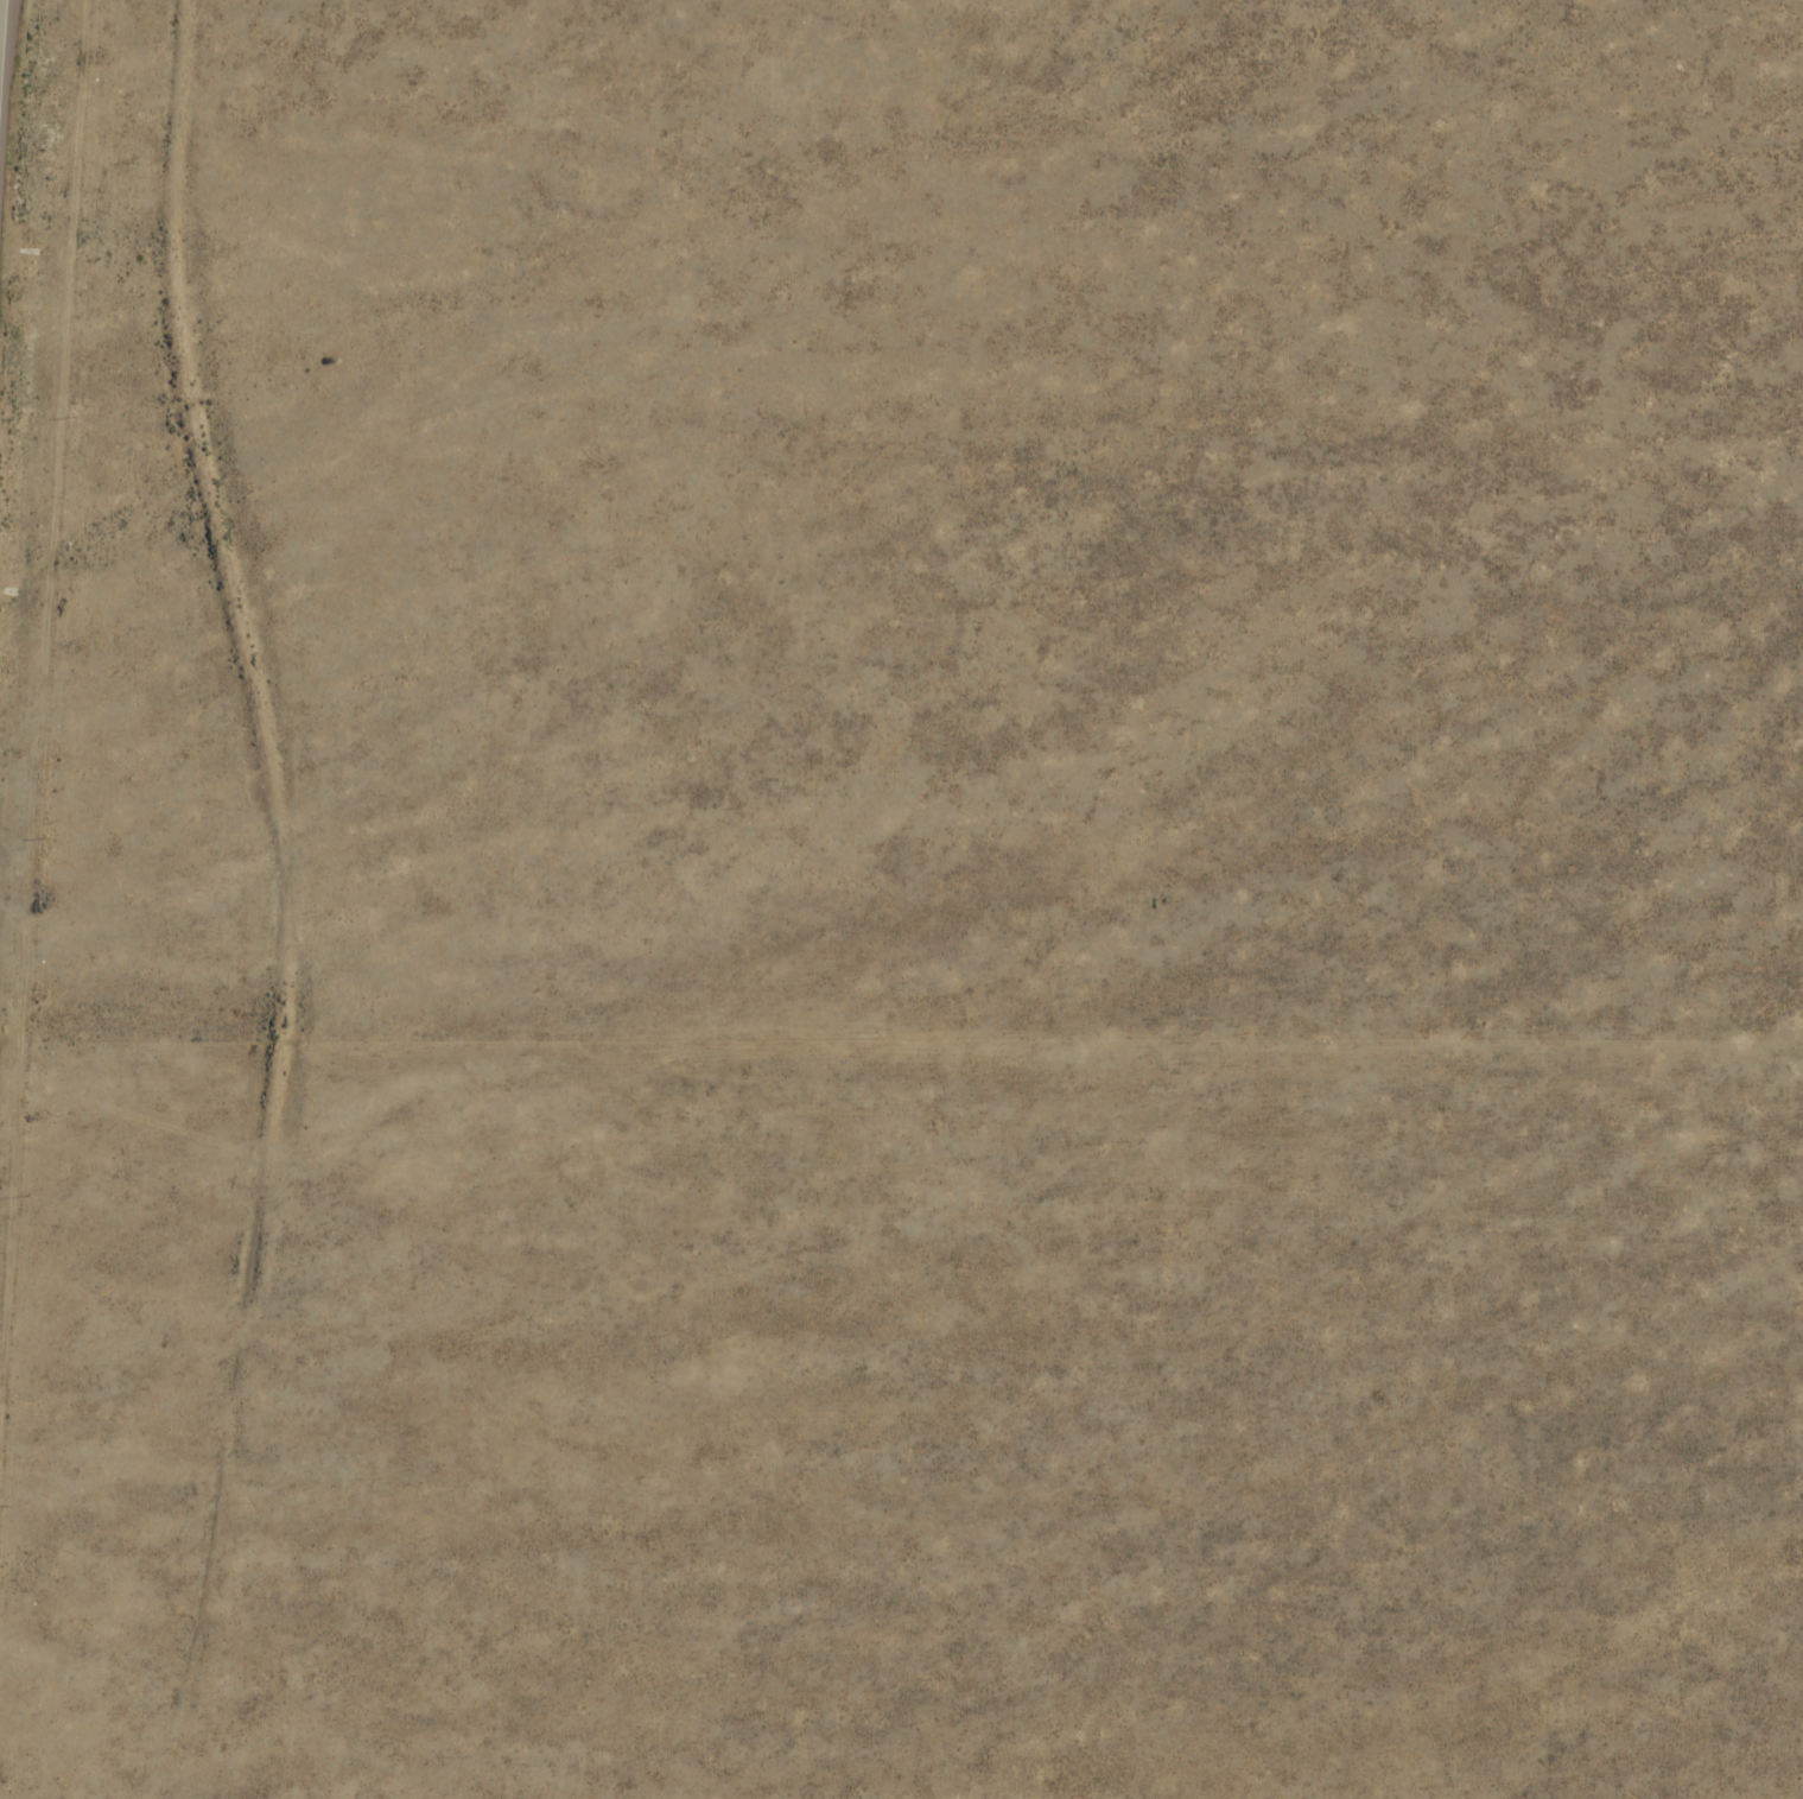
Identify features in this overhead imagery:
parking lot: (4, 19)

